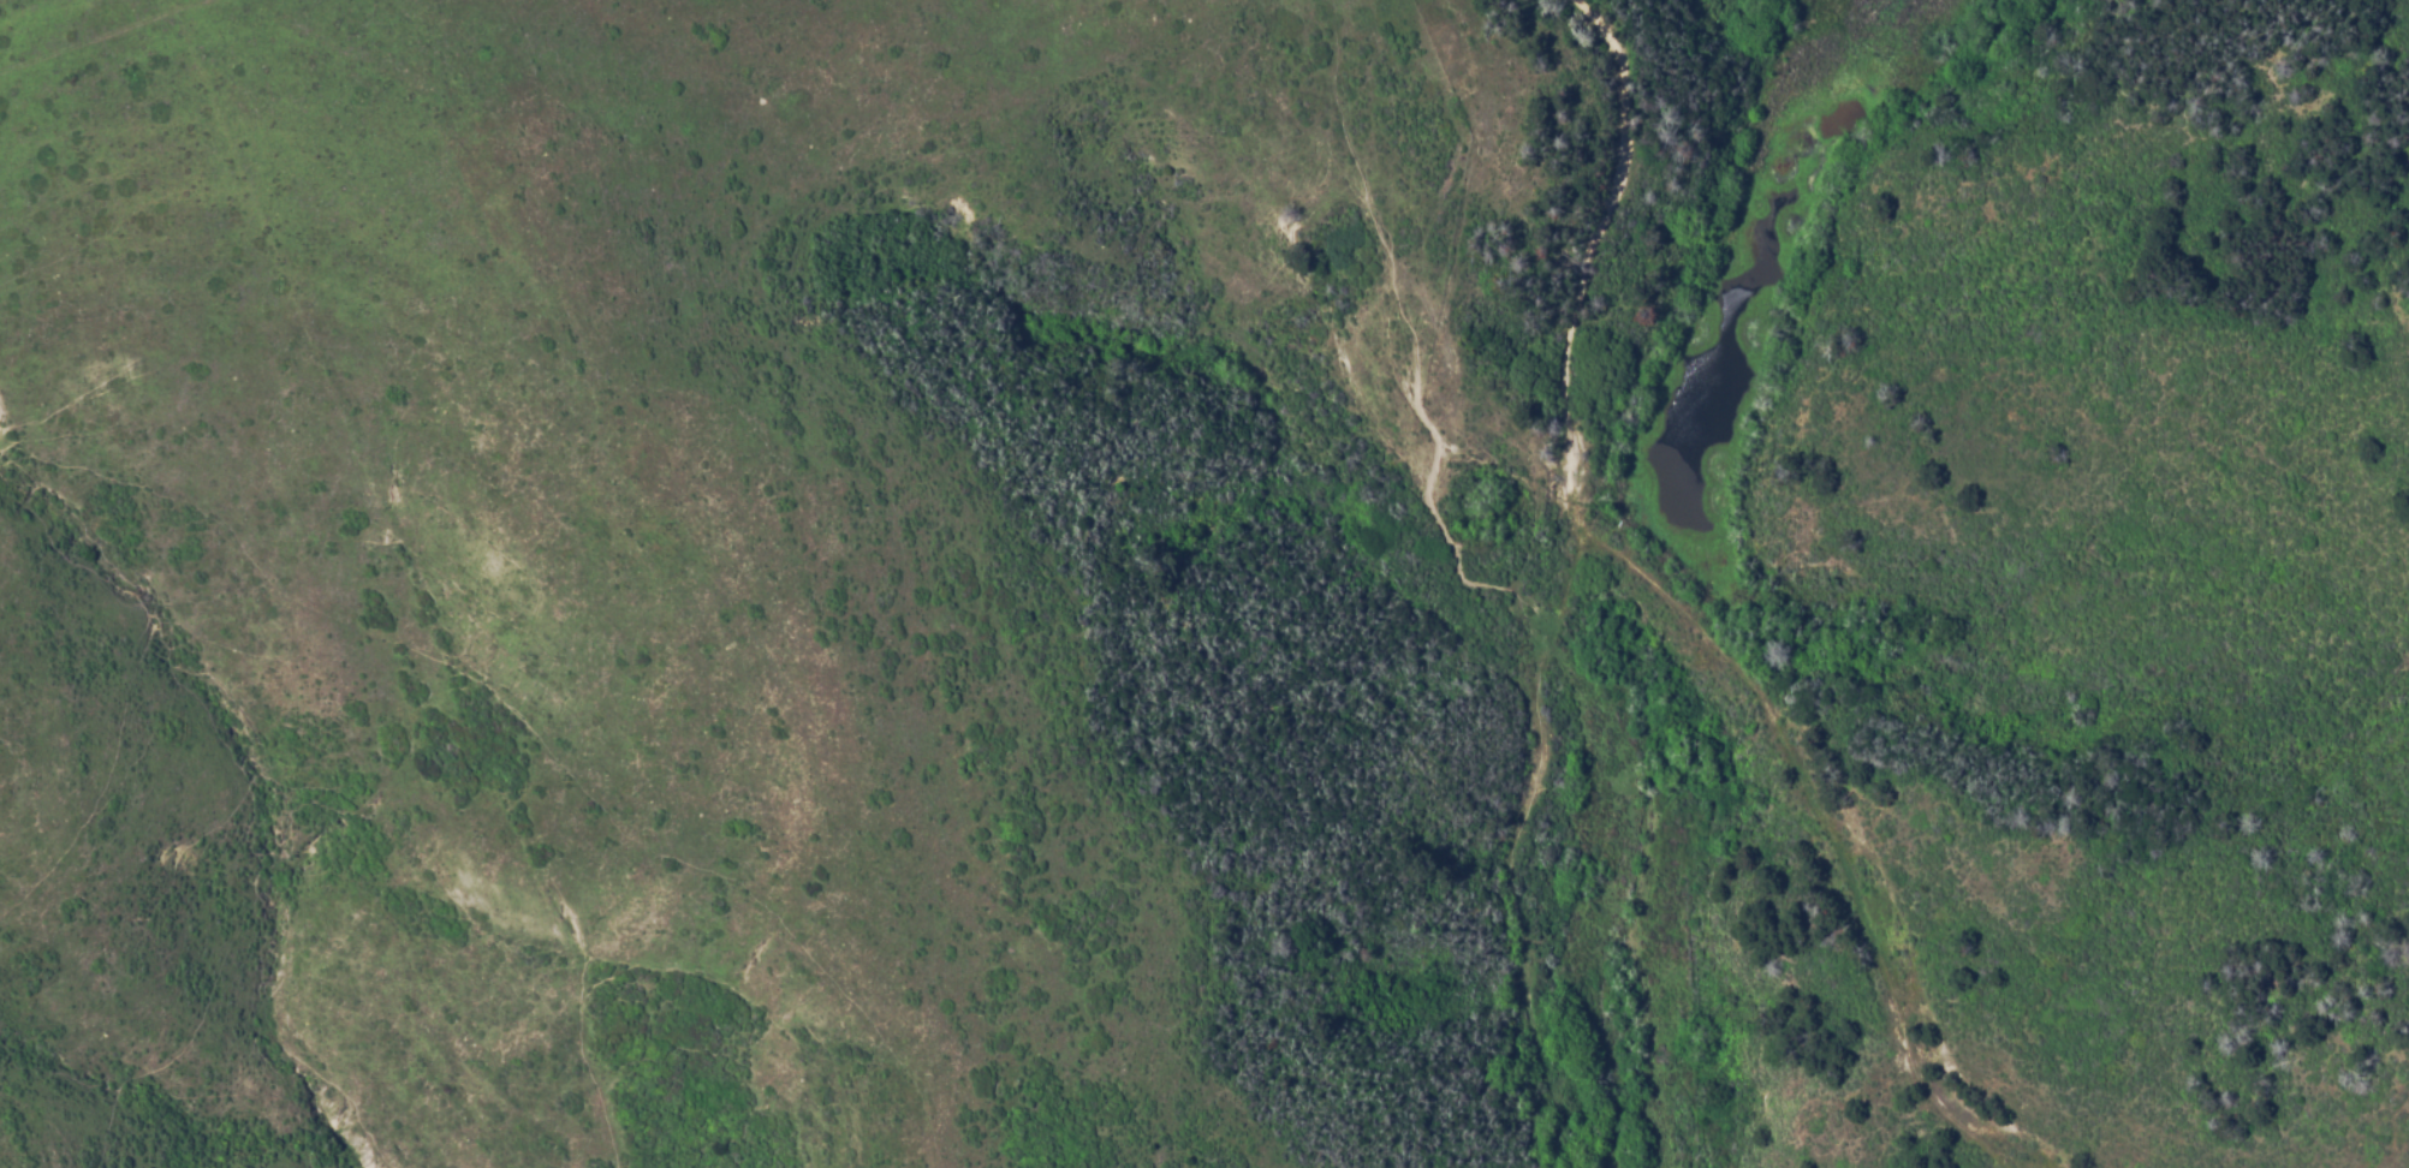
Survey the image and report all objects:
road: (1582, 202)
road: (1831, 822)
road: (1517, 845)

